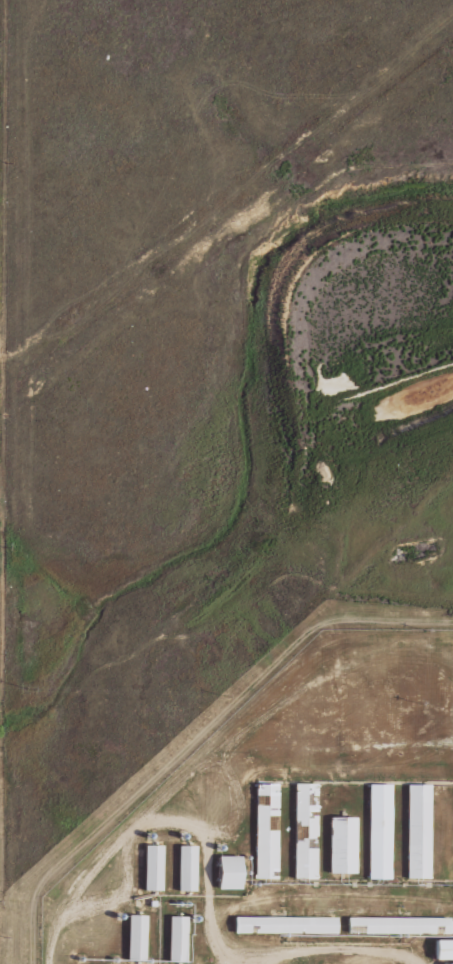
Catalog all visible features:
road: (88, 383)
building: (266, 829)
building: (305, 830)
building: (419, 831)
building: (379, 834)
building: (341, 845)
building: (150, 867)
building: (185, 870)
building: (231, 873)
building: (284, 924)
building: (398, 925)
building: (451, 928)
building: (134, 937)
building: (174, 938)
building: (442, 950)

